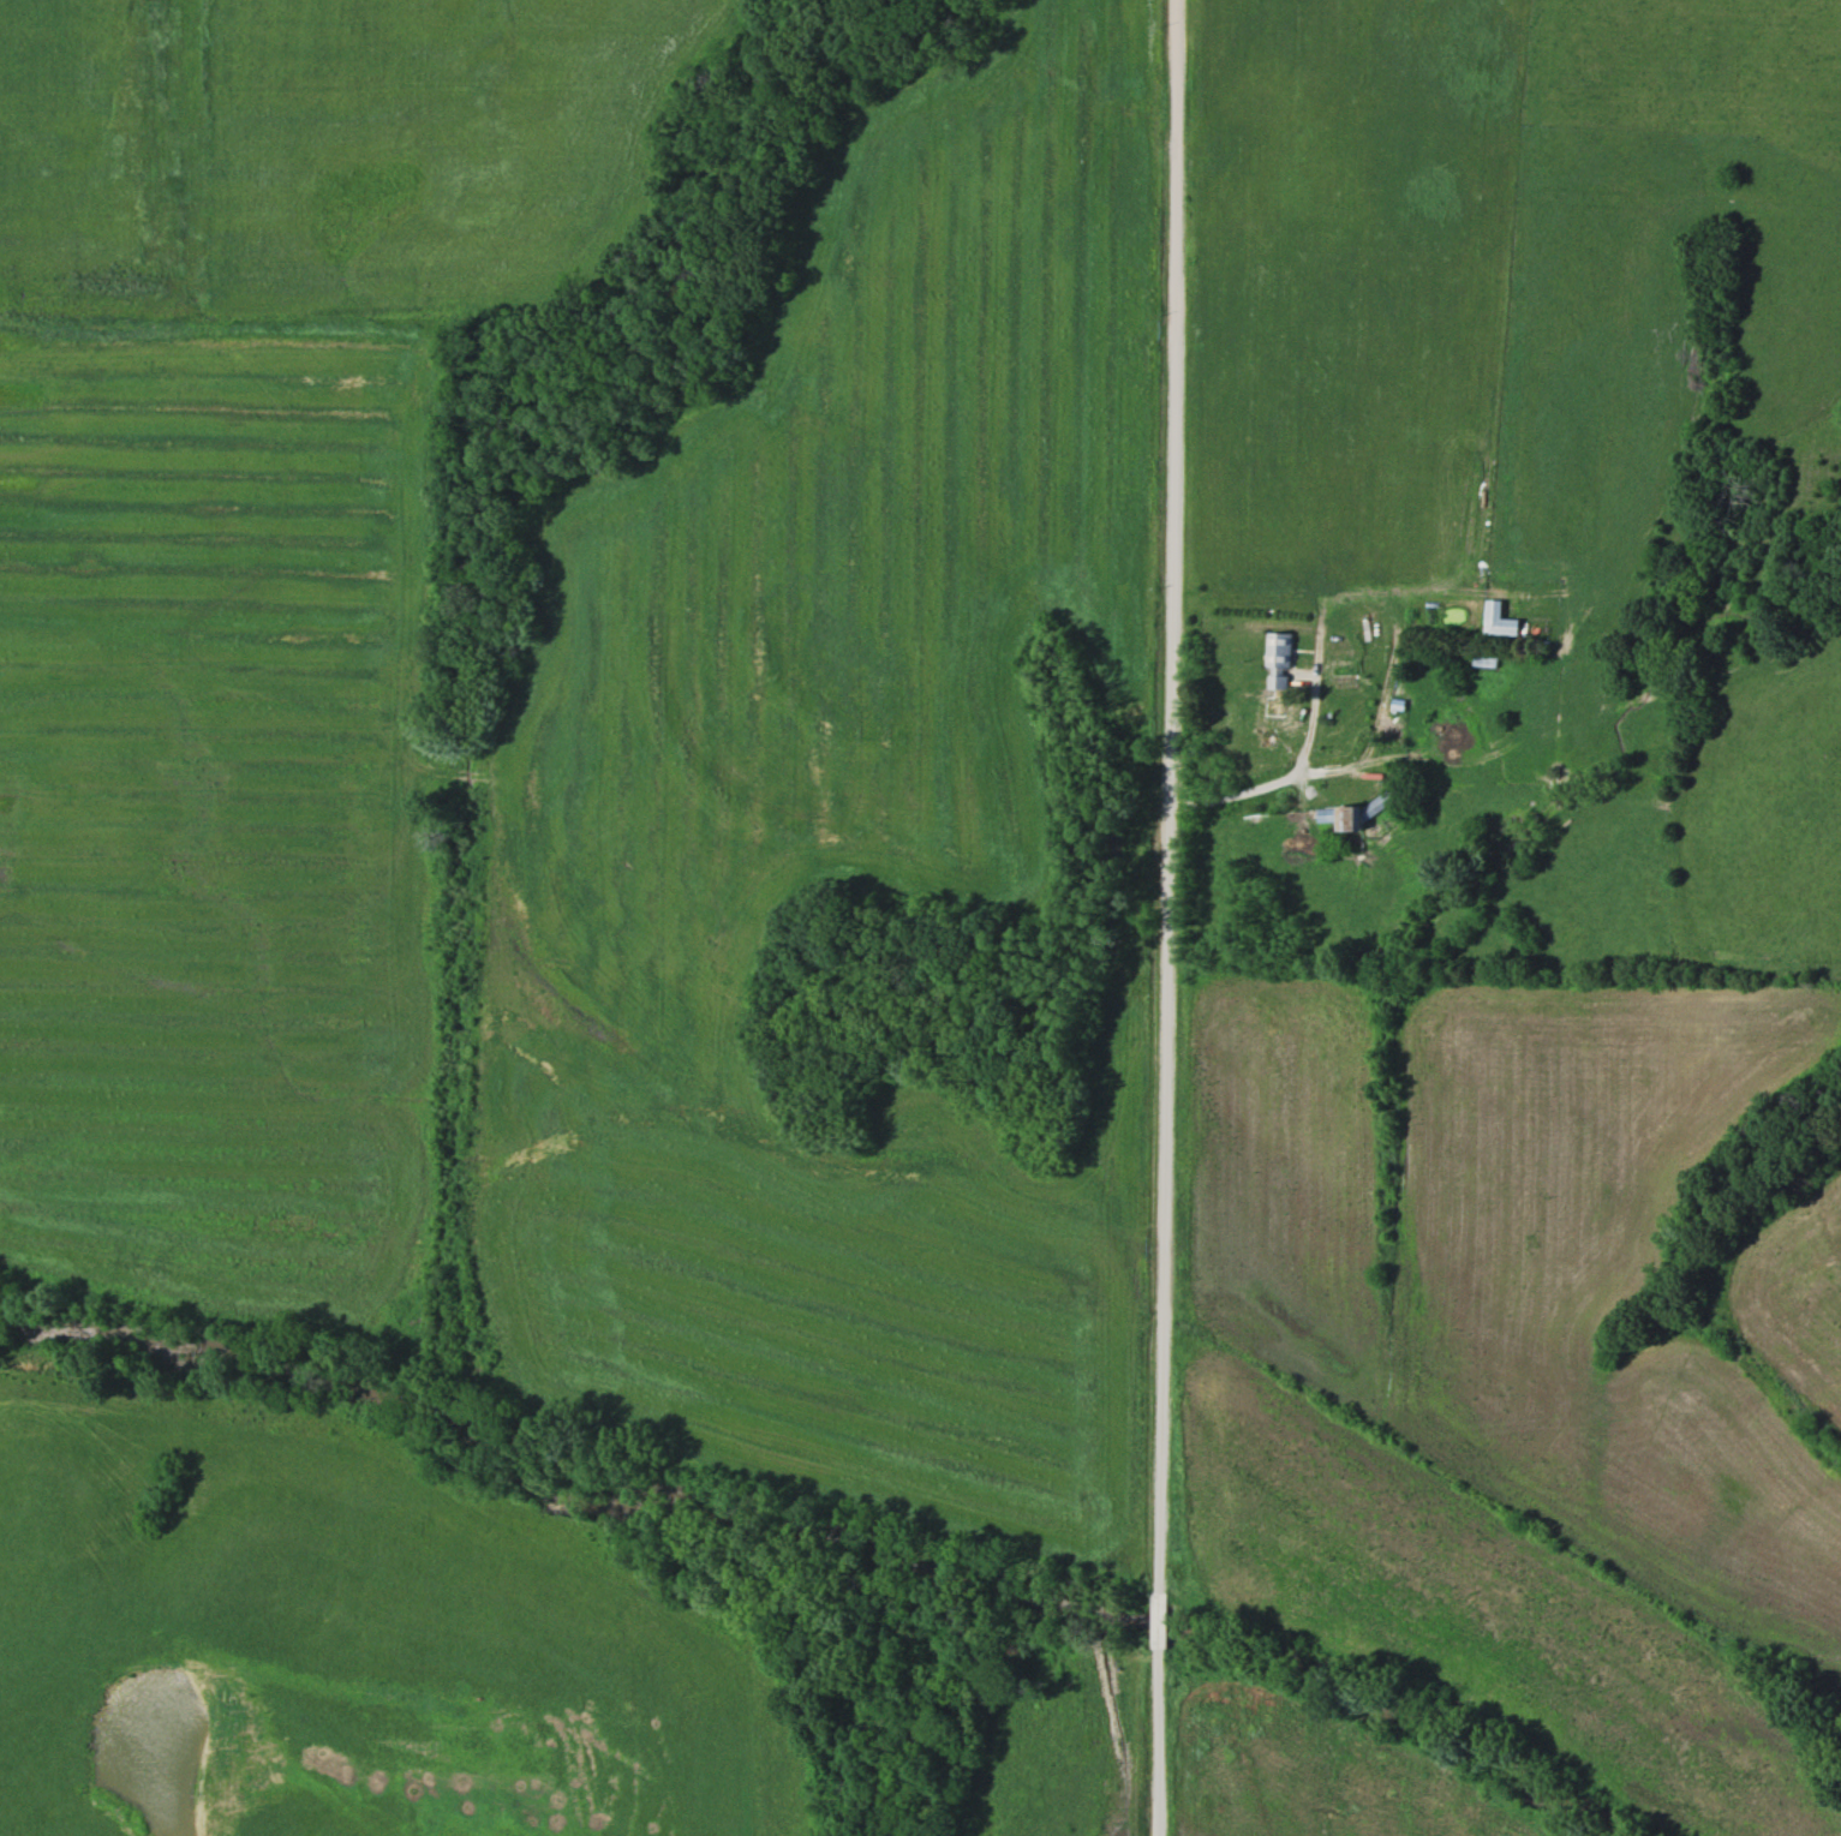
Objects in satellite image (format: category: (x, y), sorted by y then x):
building: (1279, 660)
building: (1344, 671)
road: (1245, 796)
road: (1170, 917)

